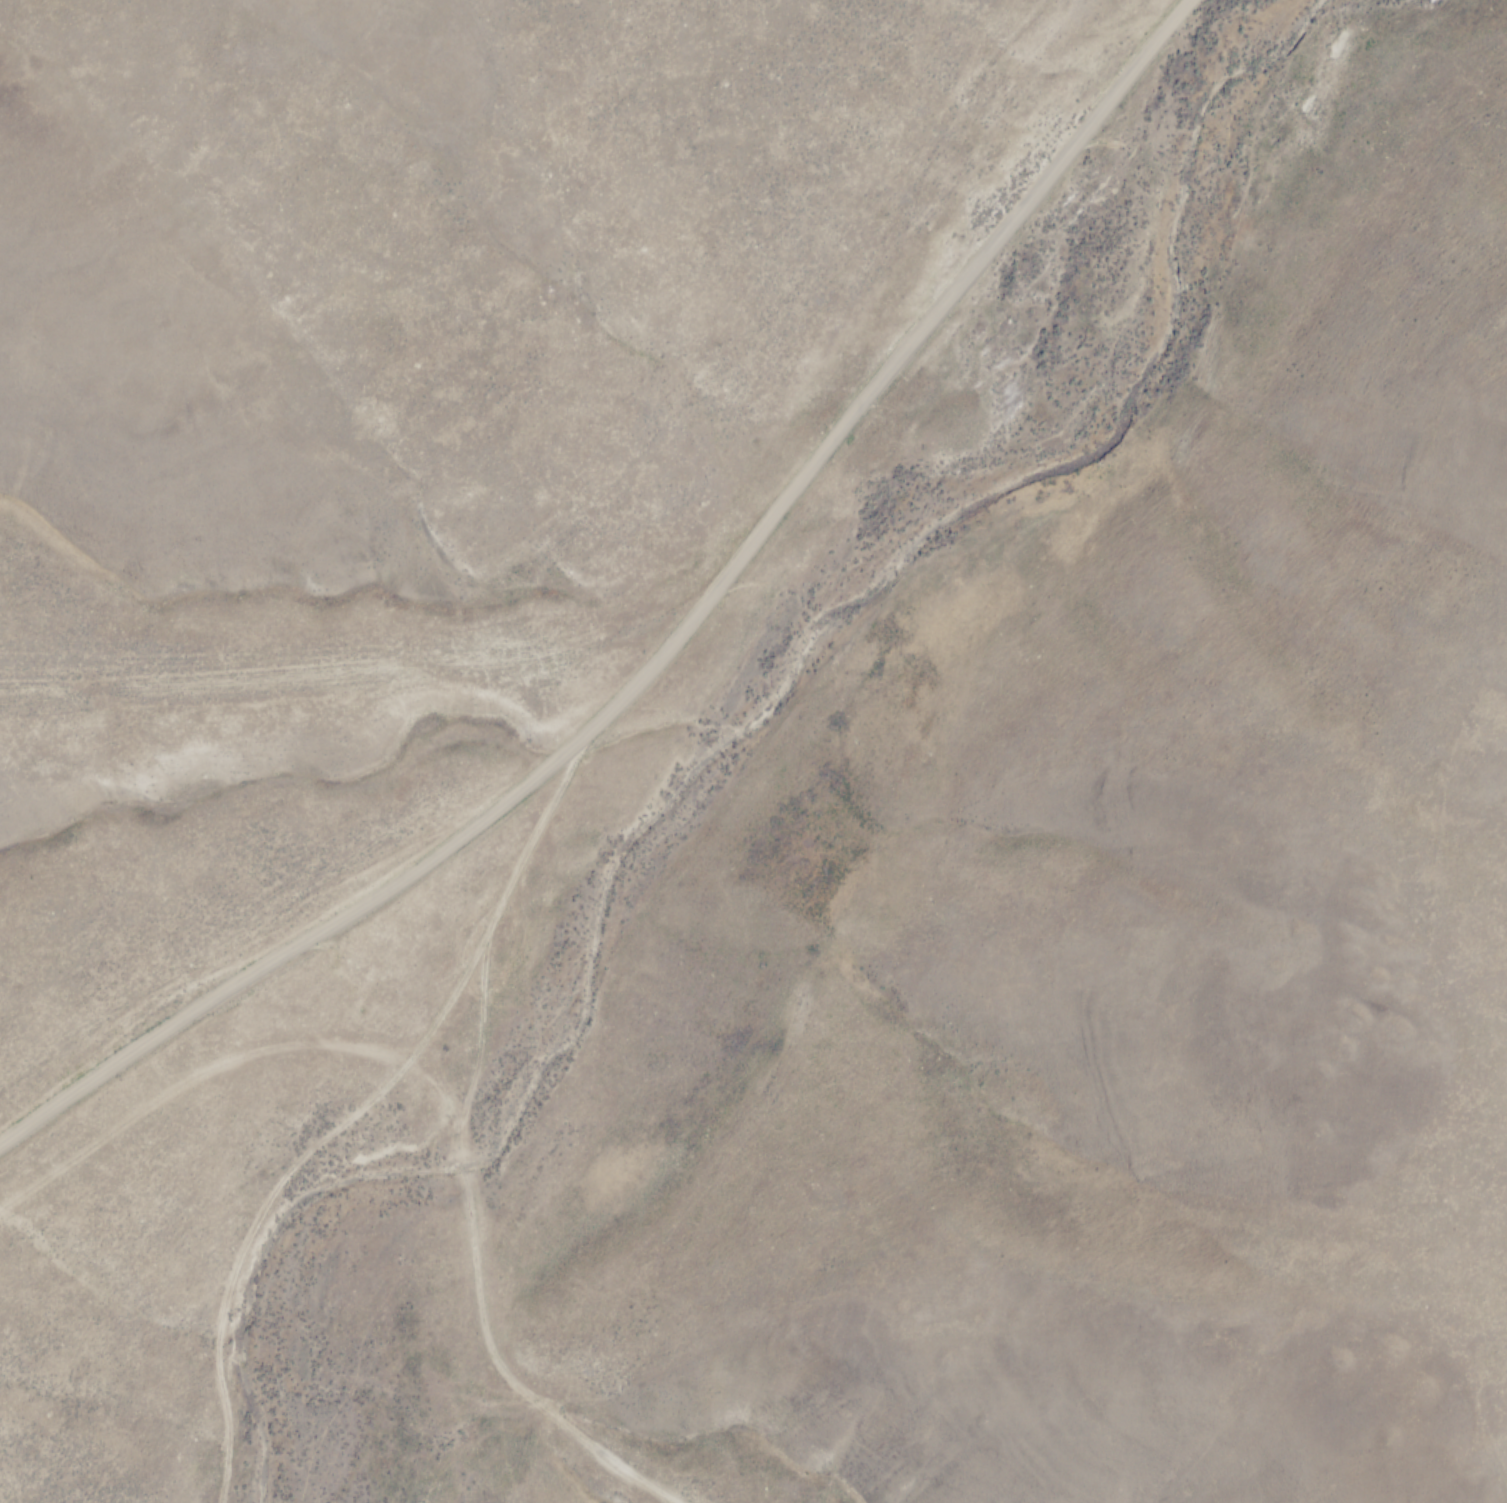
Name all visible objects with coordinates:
road: (660, 651)
road: (325, 670)
road: (482, 1208)

